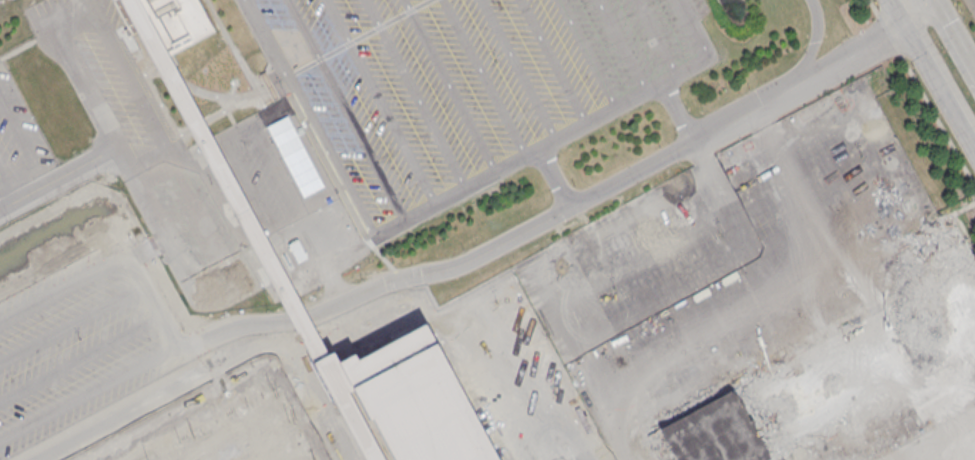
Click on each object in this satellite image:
road: (43, 9)
road: (916, 9)
road: (897, 10)
building: (165, 19)
traffic signals: (905, 21)
road: (696, 28)
road: (24, 30)
road: (656, 37)
road: (954, 37)
road: (619, 46)
road: (811, 51)
road: (586, 53)
road: (554, 61)
road: (241, 63)
road: (517, 69)
road: (34, 72)
road: (482, 77)
road: (940, 81)
road: (449, 85)
road: (922, 92)
road: (414, 93)
road: (220, 98)
road: (92, 100)
road: (378, 101)
road: (344, 108)
road: (677, 112)
road: (216, 113)
road: (44, 116)
road: (309, 116)
parking lot: (364, 118)
road: (149, 121)
parking lot: (19, 139)
road: (211, 145)
road: (542, 145)
road: (895, 151)
road: (54, 160)
building: (222, 176)
road: (554, 177)
road: (321, 178)
road: (700, 180)
road: (298, 209)
road: (557, 213)
road: (721, 220)
road: (268, 223)
road: (911, 236)
road: (745, 237)
parking lot: (727, 260)
road: (742, 260)
road: (328, 269)
road: (78, 277)
road: (226, 282)
road: (336, 289)
road: (862, 296)
road: (762, 298)
road: (161, 318)
road: (71, 321)
parking lot: (81, 341)
road: (578, 347)
road: (79, 357)
road: (221, 365)
building: (837, 368)
road: (707, 380)
road: (88, 393)
building: (408, 399)
road: (898, 422)
building: (356, 427)
building: (243, 436)
building: (942, 445)
road: (622, 450)

